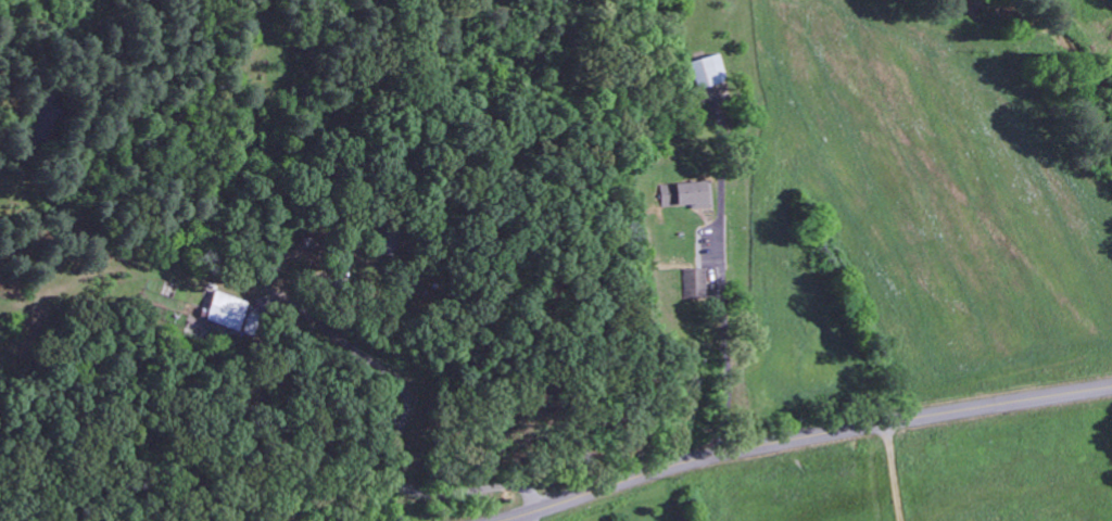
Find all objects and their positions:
building: (709, 72)
building: (685, 195)
building: (694, 284)
building: (225, 312)
road: (715, 341)
road: (401, 433)
road: (801, 439)
road: (895, 472)

